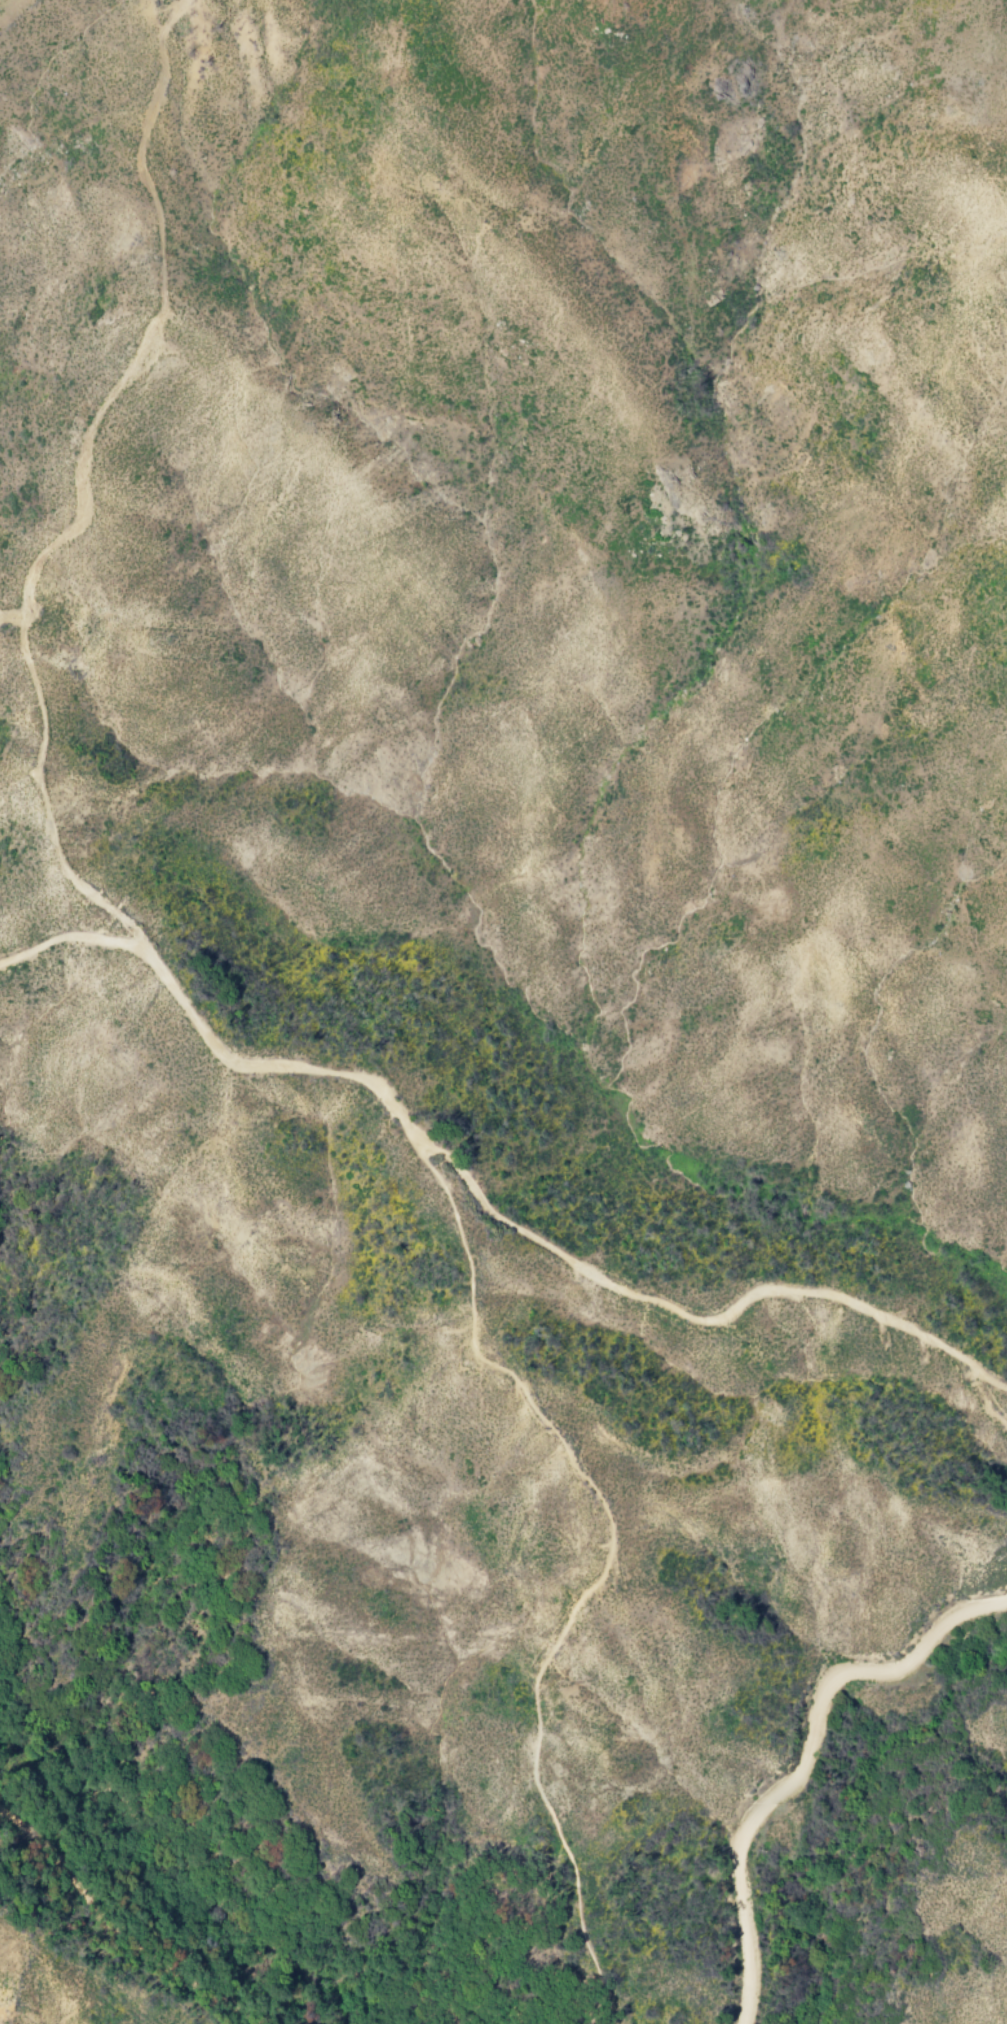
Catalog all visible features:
road: (89, 491)
road: (12, 622)
road: (481, 1200)
road: (606, 1563)
road: (799, 1759)
road: (104, 1936)
road: (522, 2014)

